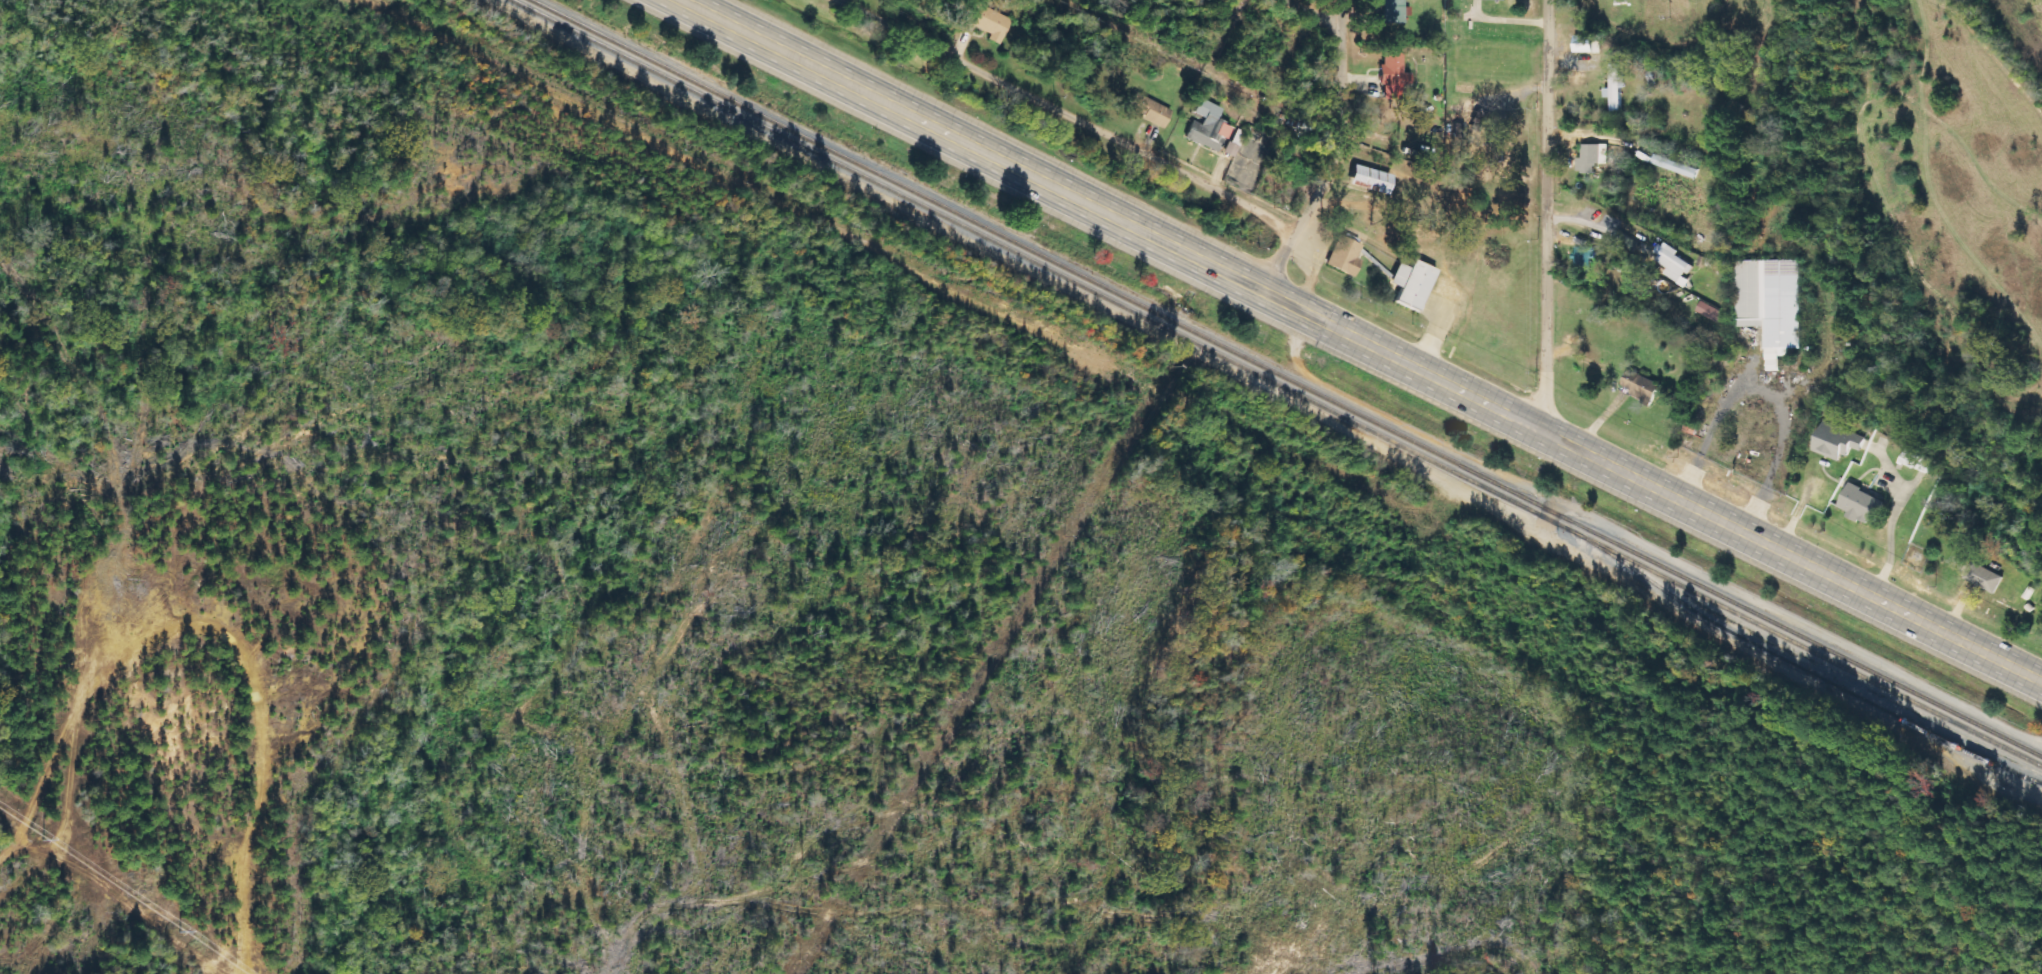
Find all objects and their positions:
building: (1497, 0)
road: (845, 3)
building: (1395, 11)
road: (1317, 14)
building: (987, 21)
road: (769, 44)
building: (1584, 44)
building: (1393, 75)
building: (1615, 88)
building: (1150, 110)
road: (1070, 117)
road: (1345, 121)
building: (1208, 127)
building: (1592, 157)
building: (1676, 166)
building: (1371, 180)
road: (1542, 212)
road: (1581, 215)
building: (1346, 257)
road: (1274, 259)
building: (1582, 260)
building: (1674, 264)
building: (1413, 284)
building: (1771, 304)
building: (1712, 313)
railway: (1291, 378)
railway: (1276, 383)
road: (1449, 383)
building: (1640, 386)
building: (1836, 441)
building: (1907, 458)
building: (1923, 464)
building: (1862, 505)
building: (1983, 577)
railway: (1802, 669)
building: (2016, 786)

